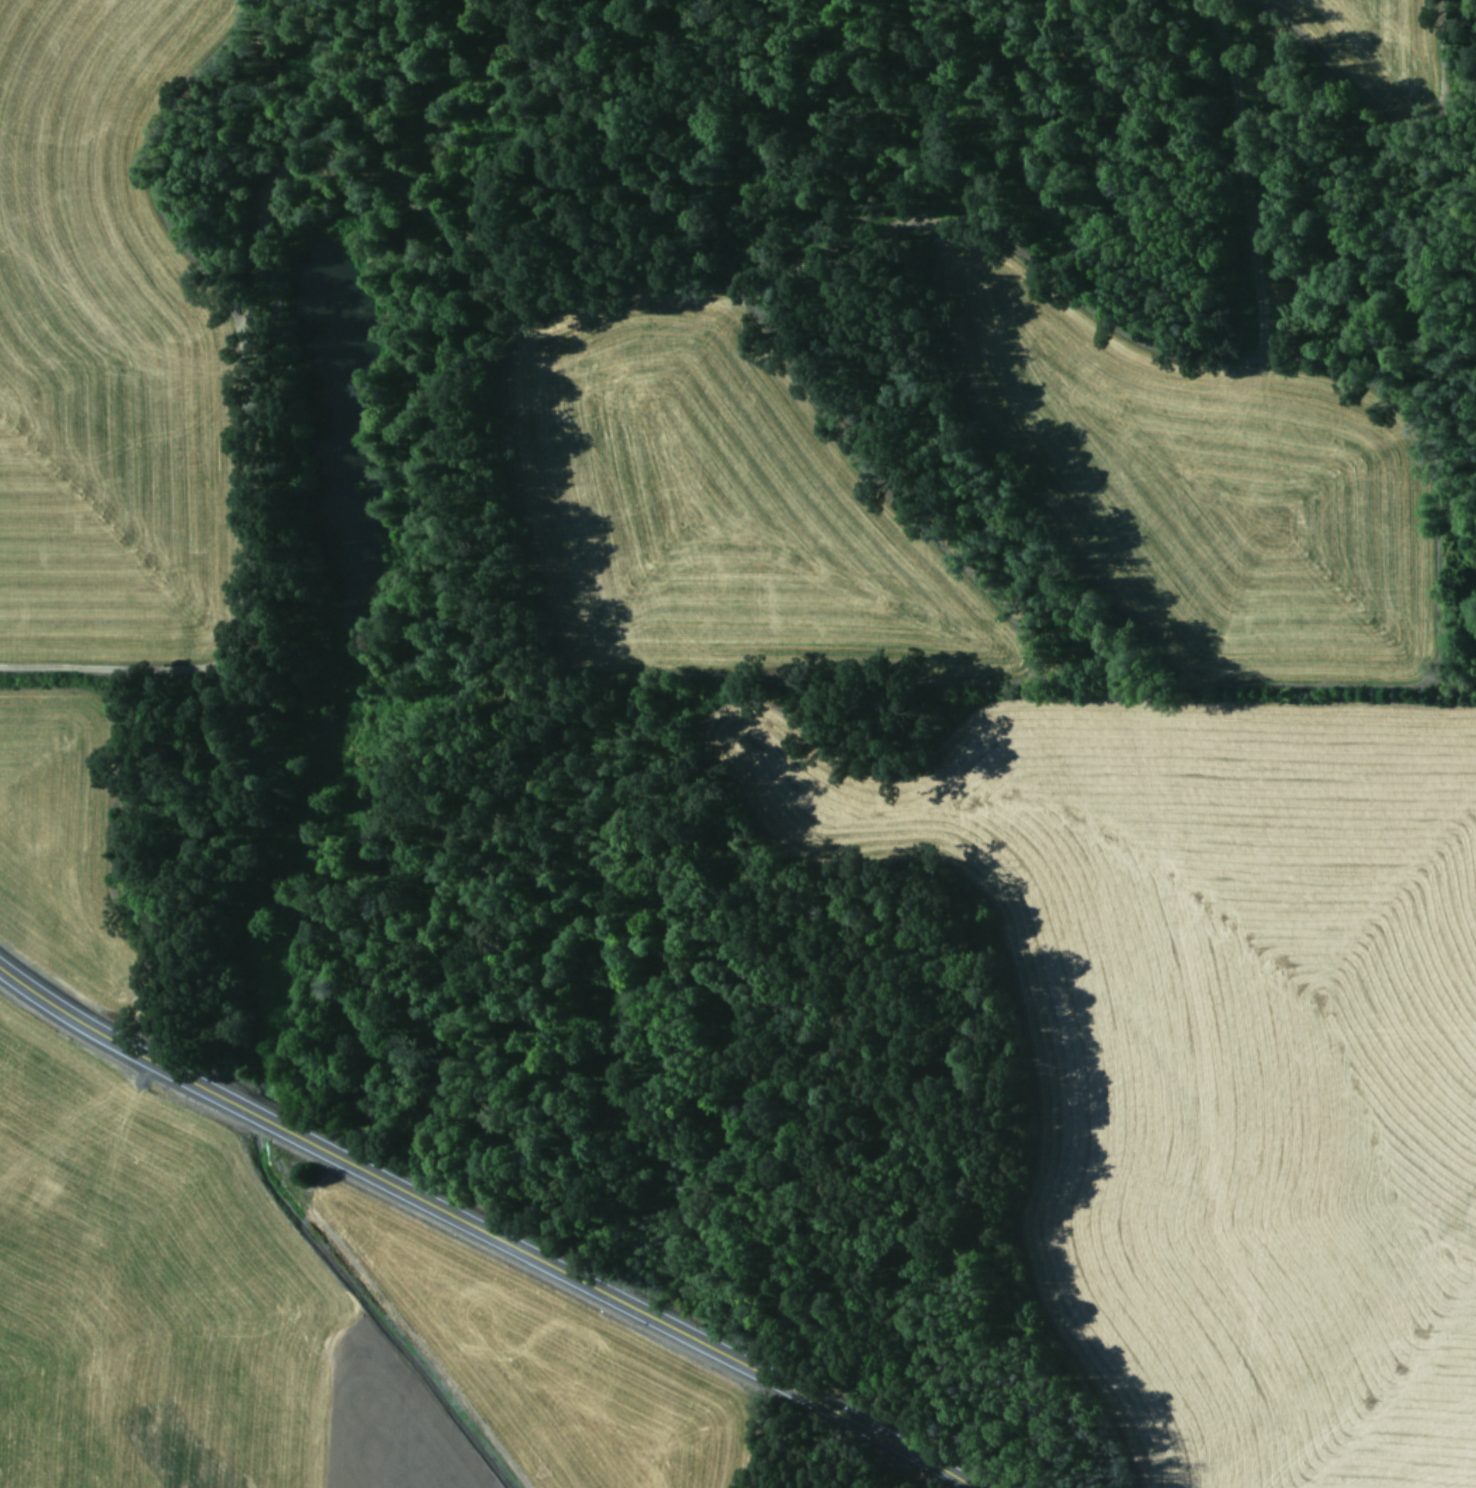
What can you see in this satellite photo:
crop: (1350, 34)
crop: (85, 471)
crop: (1212, 1054)
road: (480, 1232)
crop: (280, 1319)

